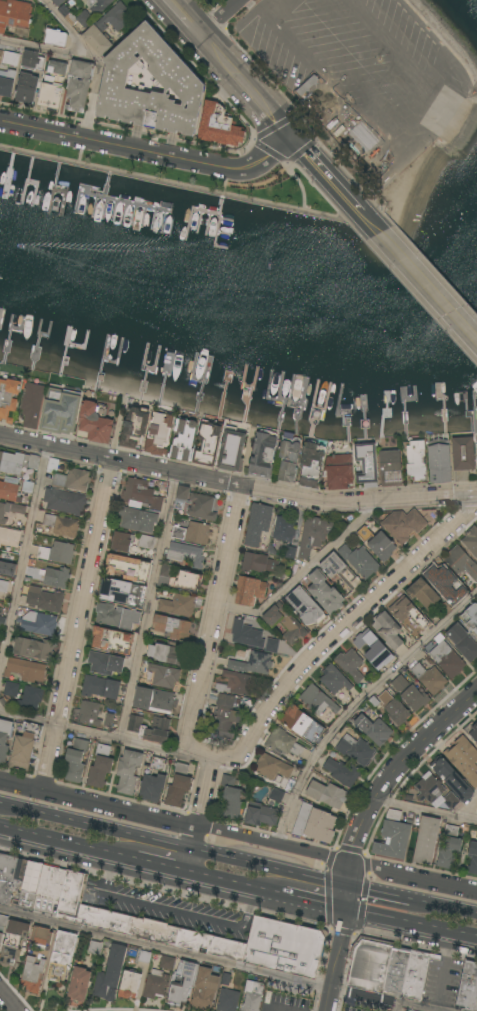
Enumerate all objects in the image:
building: (57, 2)
building: (98, 5)
road: (276, 6)
building: (14, 14)
building: (66, 14)
road: (186, 17)
road: (221, 17)
building: (106, 28)
building: (56, 37)
road: (45, 51)
road: (95, 60)
building: (32, 61)
road: (412, 67)
building: (8, 73)
building: (176, 77)
building: (53, 85)
building: (78, 85)
building: (26, 88)
road: (249, 88)
road: (349, 95)
railway: (380, 104)
building: (220, 127)
road: (150, 152)
road: (332, 183)
road: (422, 283)
building: (8, 398)
building: (33, 404)
building: (61, 415)
building: (94, 423)
building: (134, 427)
building: (158, 434)
building: (183, 440)
building: (208, 442)
building: (232, 450)
building: (263, 454)
building: (463, 457)
building: (289, 459)
building: (439, 461)
building: (17, 462)
building: (414, 462)
building: (311, 464)
building: (52, 465)
building: (366, 465)
building: (390, 468)
building: (339, 472)
building: (72, 480)
road: (237, 484)
building: (27, 487)
building: (12, 492)
building: (181, 497)
building: (64, 502)
building: (140, 506)
building: (201, 507)
building: (10, 510)
building: (258, 524)
building: (61, 525)
building: (403, 525)
building: (284, 529)
building: (193, 533)
building: (313, 536)
building: (9, 537)
building: (471, 540)
building: (122, 541)
building: (146, 542)
building: (378, 543)
building: (57, 553)
building: (290, 553)
building: (186, 554)
road: (24, 558)
building: (360, 561)
building: (461, 562)
building: (258, 563)
building: (7, 569)
building: (128, 569)
building: (340, 571)
road: (304, 574)
building: (55, 577)
building: (178, 579)
building: (444, 580)
building: (3, 586)
building: (249, 591)
building: (122, 592)
building: (325, 593)
building: (423, 593)
building: (45, 600)
road: (147, 605)
building: (178, 605)
building: (307, 607)
building: (444, 609)
building: (409, 613)
building: (117, 617)
building: (470, 618)
building: (2, 622)
building: (38, 623)
road: (79, 623)
building: (285, 623)
road: (345, 625)
building: (172, 628)
building: (388, 630)
road: (212, 632)
building: (245, 633)
building: (112, 640)
building: (463, 642)
building: (0, 643)
building: (372, 648)
building: (34, 649)
building: (168, 653)
building: (446, 658)
building: (258, 659)
building: (105, 664)
building: (350, 664)
building: (25, 670)
building: (164, 676)
building: (429, 678)
building: (334, 680)
building: (236, 683)
building: (400, 684)
building: (100, 688)
building: (11, 689)
building: (30, 698)
building: (415, 698)
building: (154, 700)
building: (317, 701)
road: (358, 704)
building: (394, 708)
building: (227, 712)
building: (90, 713)
building: (75, 715)
building: (108, 719)
building: (135, 724)
building: (302, 724)
building: (374, 729)
building: (159, 730)
road: (93, 732)
building: (474, 732)
building: (4, 739)
building: (283, 743)
building: (25, 747)
building: (356, 750)
building: (466, 759)
building: (76, 760)
road: (222, 760)
road: (398, 765)
building: (100, 767)
building: (272, 767)
building: (129, 771)
building: (342, 772)
building: (153, 780)
building: (453, 780)
building: (178, 786)
building: (430, 788)
building: (327, 794)
building: (276, 795)
building: (231, 798)
building: (451, 800)
building: (476, 806)
road: (467, 808)
building: (476, 808)
road: (424, 811)
road: (200, 814)
building: (261, 815)
road: (174, 821)
building: (314, 823)
building: (393, 836)
building: (426, 840)
road: (68, 841)
road: (173, 845)
building: (450, 848)
building: (473, 858)
road: (164, 865)
road: (348, 873)
road: (413, 873)
building: (19, 880)
road: (236, 883)
traffic signals: (347, 887)
road: (379, 894)
road: (345, 899)
road: (312, 903)
road: (444, 908)
road: (171, 910)
traffic signals: (344, 911)
building: (114, 921)
road: (410, 925)
building: (3, 926)
building: (41, 936)
building: (13, 942)
building: (95, 948)
road: (165, 950)
building: (61, 956)
building: (144, 957)
road: (335, 961)
building: (166, 962)
building: (370, 964)
building: (397, 971)
road: (443, 973)
building: (32, 974)
building: (110, 974)
building: (416, 974)
building: (79, 984)
building: (155, 984)
building: (183, 984)
building: (130, 985)
building: (468, 987)
building: (205, 989)
building: (252, 996)
road: (368, 998)
road: (9, 1000)
building: (227, 1000)
road: (414, 1008)

